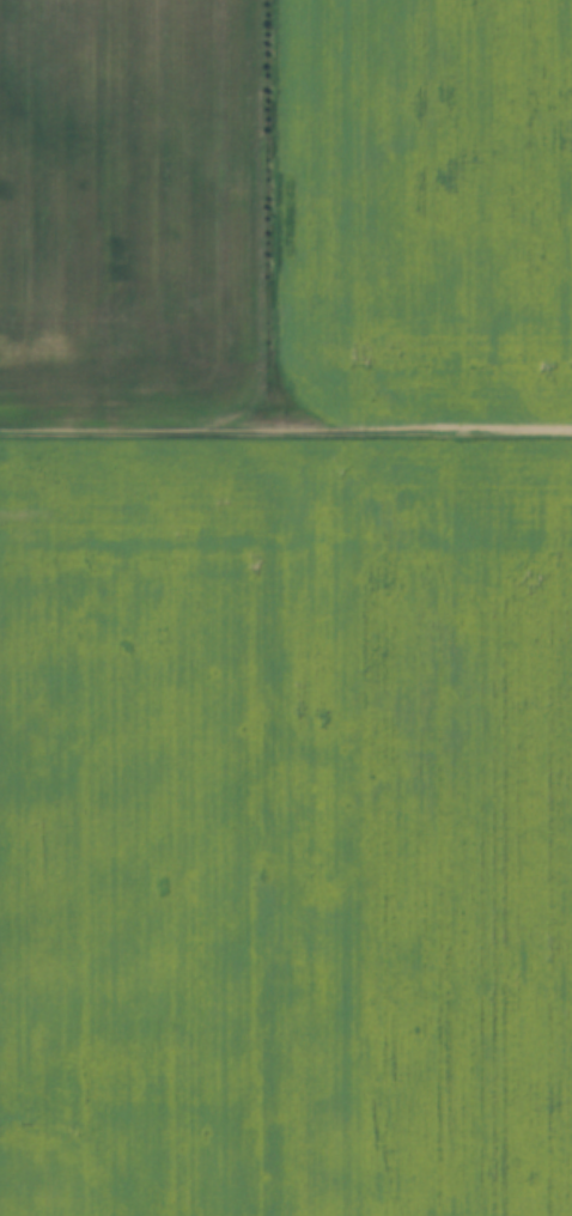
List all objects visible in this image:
road: (286, 426)

